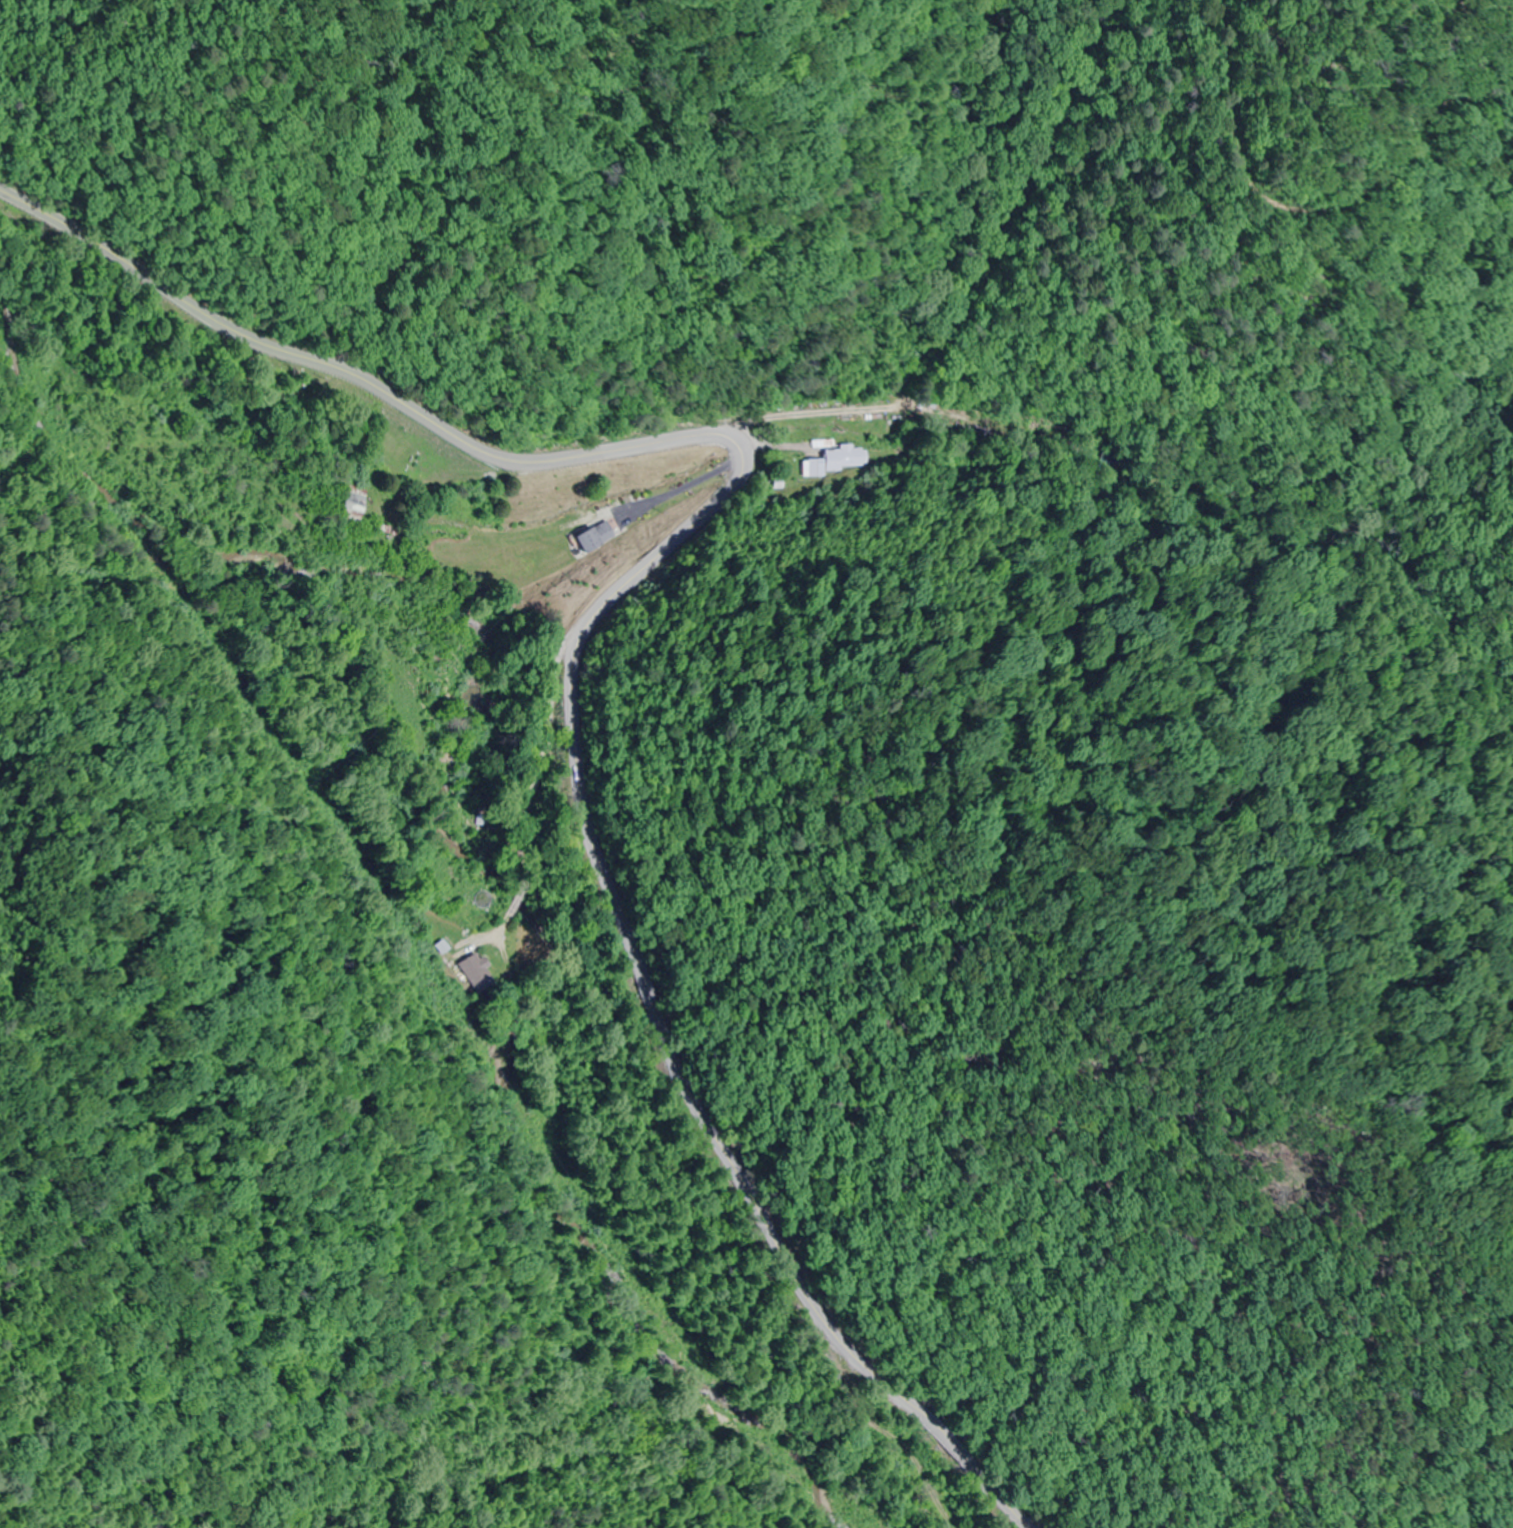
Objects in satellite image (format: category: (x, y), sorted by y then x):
road: (876, 410)
building: (833, 460)
building: (352, 504)
building: (596, 536)
building: (529, 562)
road: (588, 622)
building: (476, 971)

